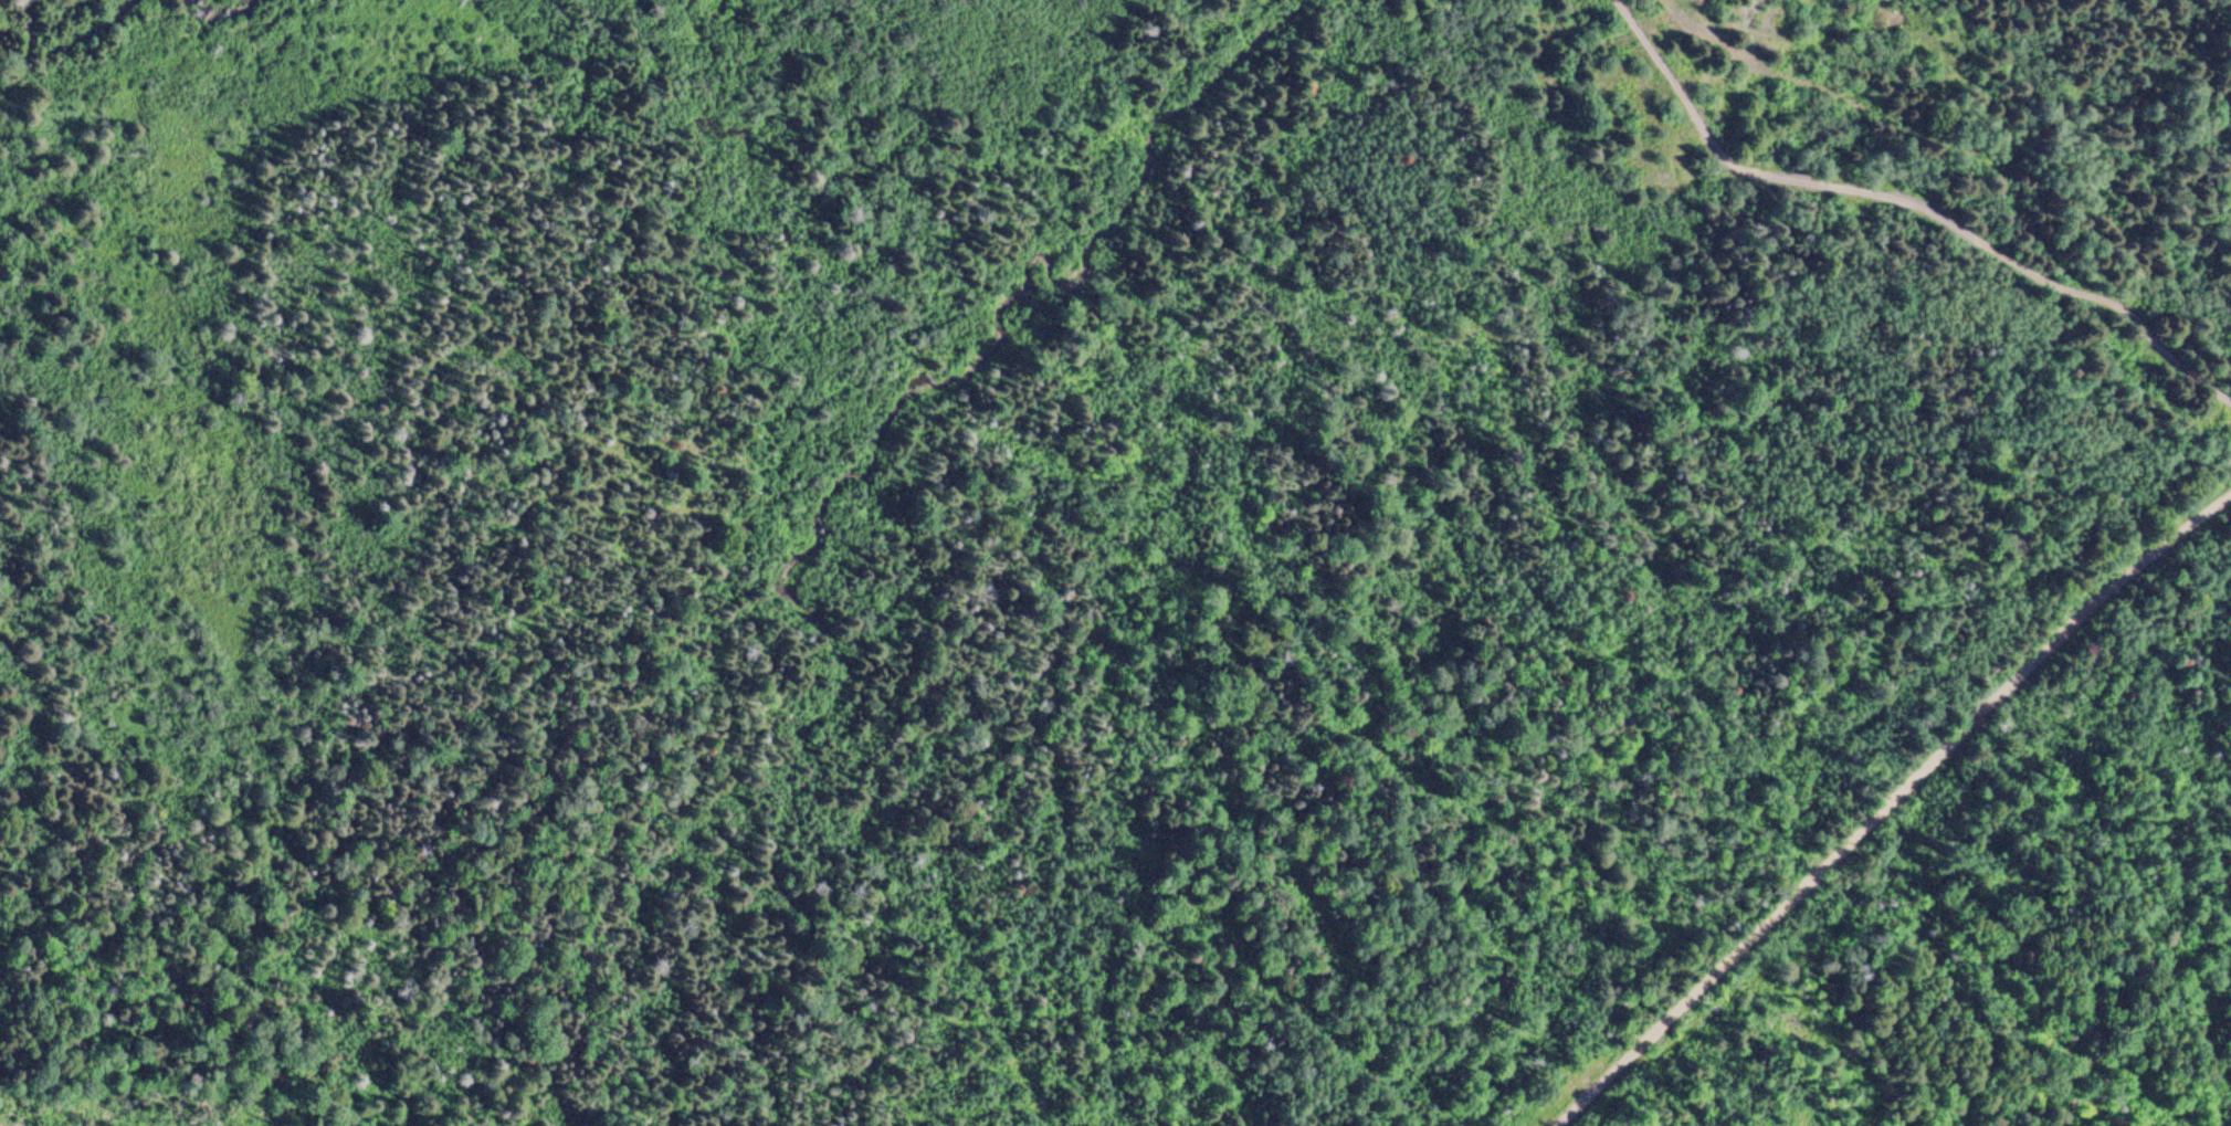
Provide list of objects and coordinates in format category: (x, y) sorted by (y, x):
river: (134, 34)
road: (1912, 197)
road: (1887, 799)

